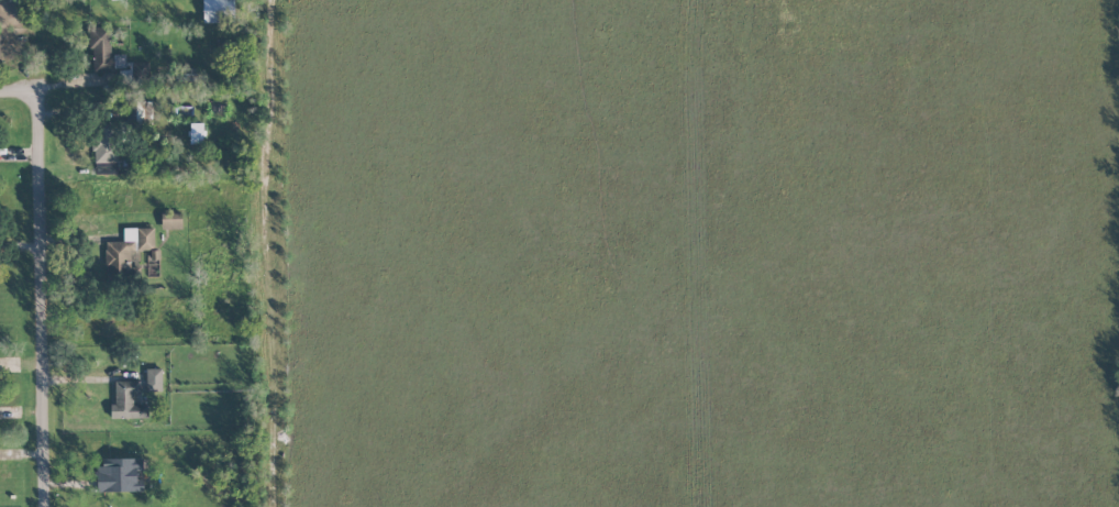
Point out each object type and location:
building: (218, 10)
building: (115, 59)
building: (185, 75)
road: (22, 93)
building: (142, 109)
building: (196, 133)
building: (106, 142)
building: (171, 220)
building: (128, 247)
road: (265, 253)
road: (49, 307)
building: (154, 379)
building: (126, 400)
building: (120, 474)

